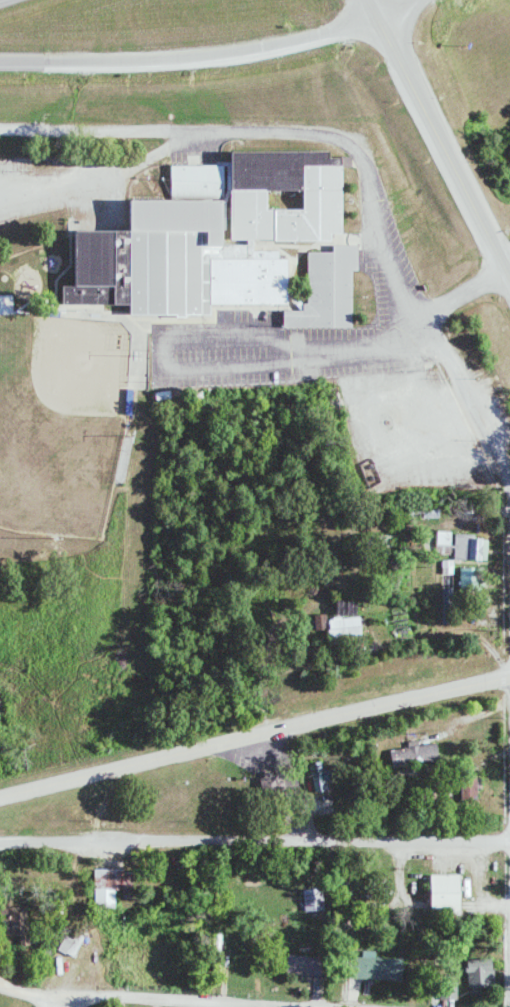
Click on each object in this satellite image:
road: (386, 7)
road: (188, 55)
road: (277, 133)
road: (437, 137)
building: (209, 235)
road: (507, 265)
building: (326, 290)
road: (459, 299)
road: (477, 397)
park: (61, 419)
building: (443, 542)
building: (469, 548)
building: (447, 567)
building: (467, 577)
building: (346, 609)
building: (338, 626)
road: (254, 730)
building: (413, 755)
building: (317, 777)
building: (269, 783)
building: (468, 789)
road: (255, 839)
building: (109, 887)
building: (443, 893)
building: (313, 900)
building: (15, 924)
building: (69, 946)
building: (216, 953)
building: (304, 966)
building: (375, 968)
building: (479, 976)
building: (449, 991)
road: (31, 995)
road: (166, 1000)
road: (63, 1003)

